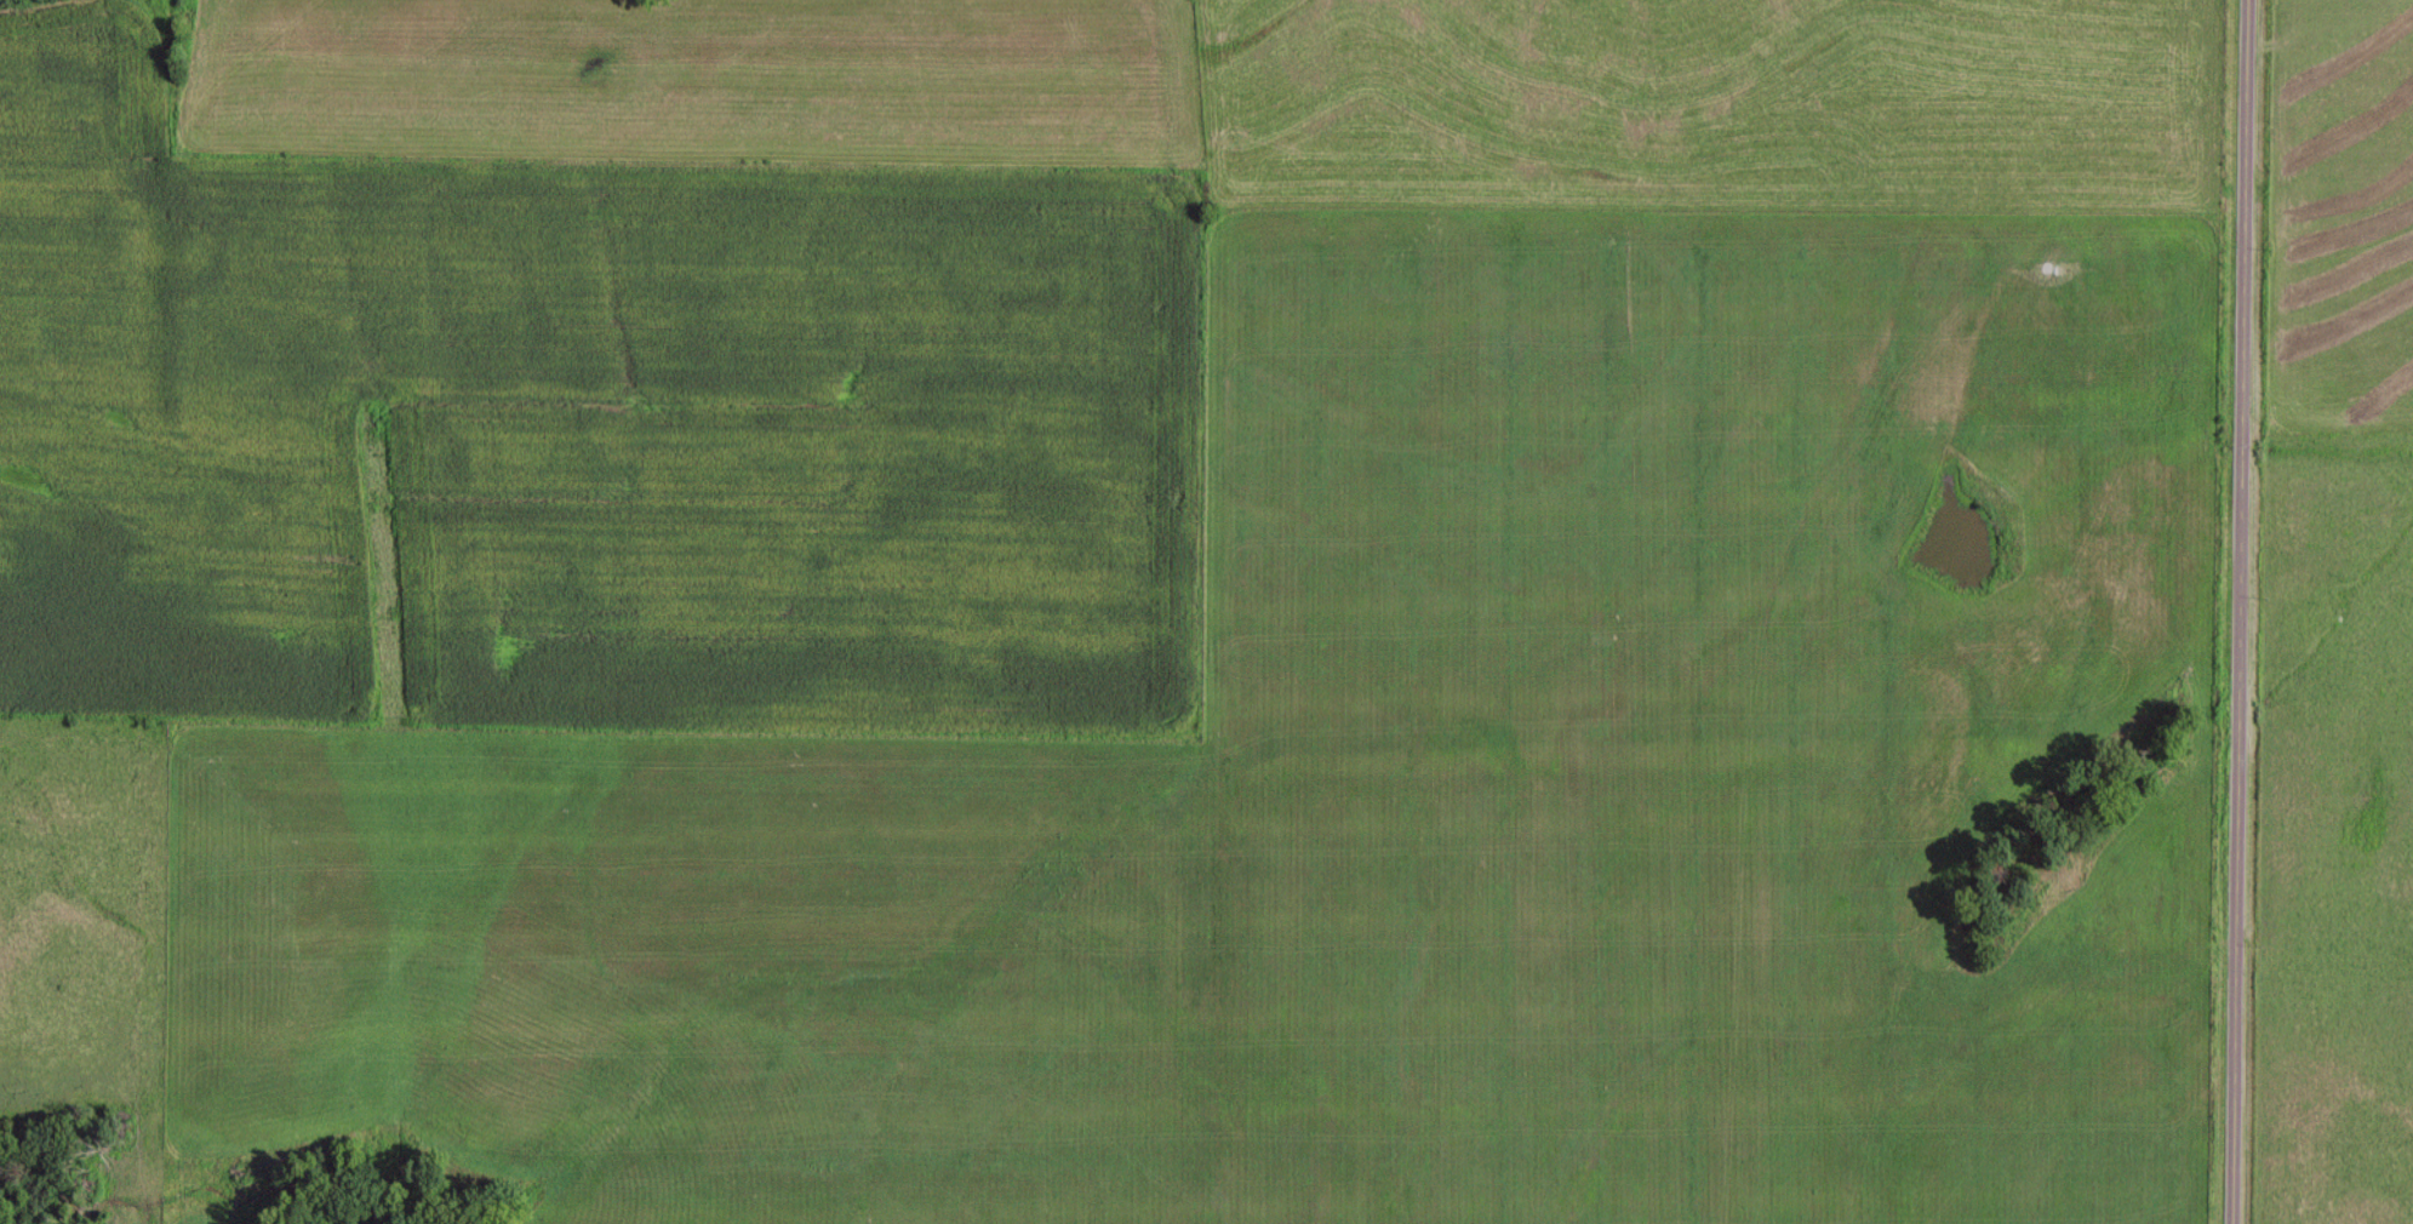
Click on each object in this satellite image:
road: (2243, 612)

